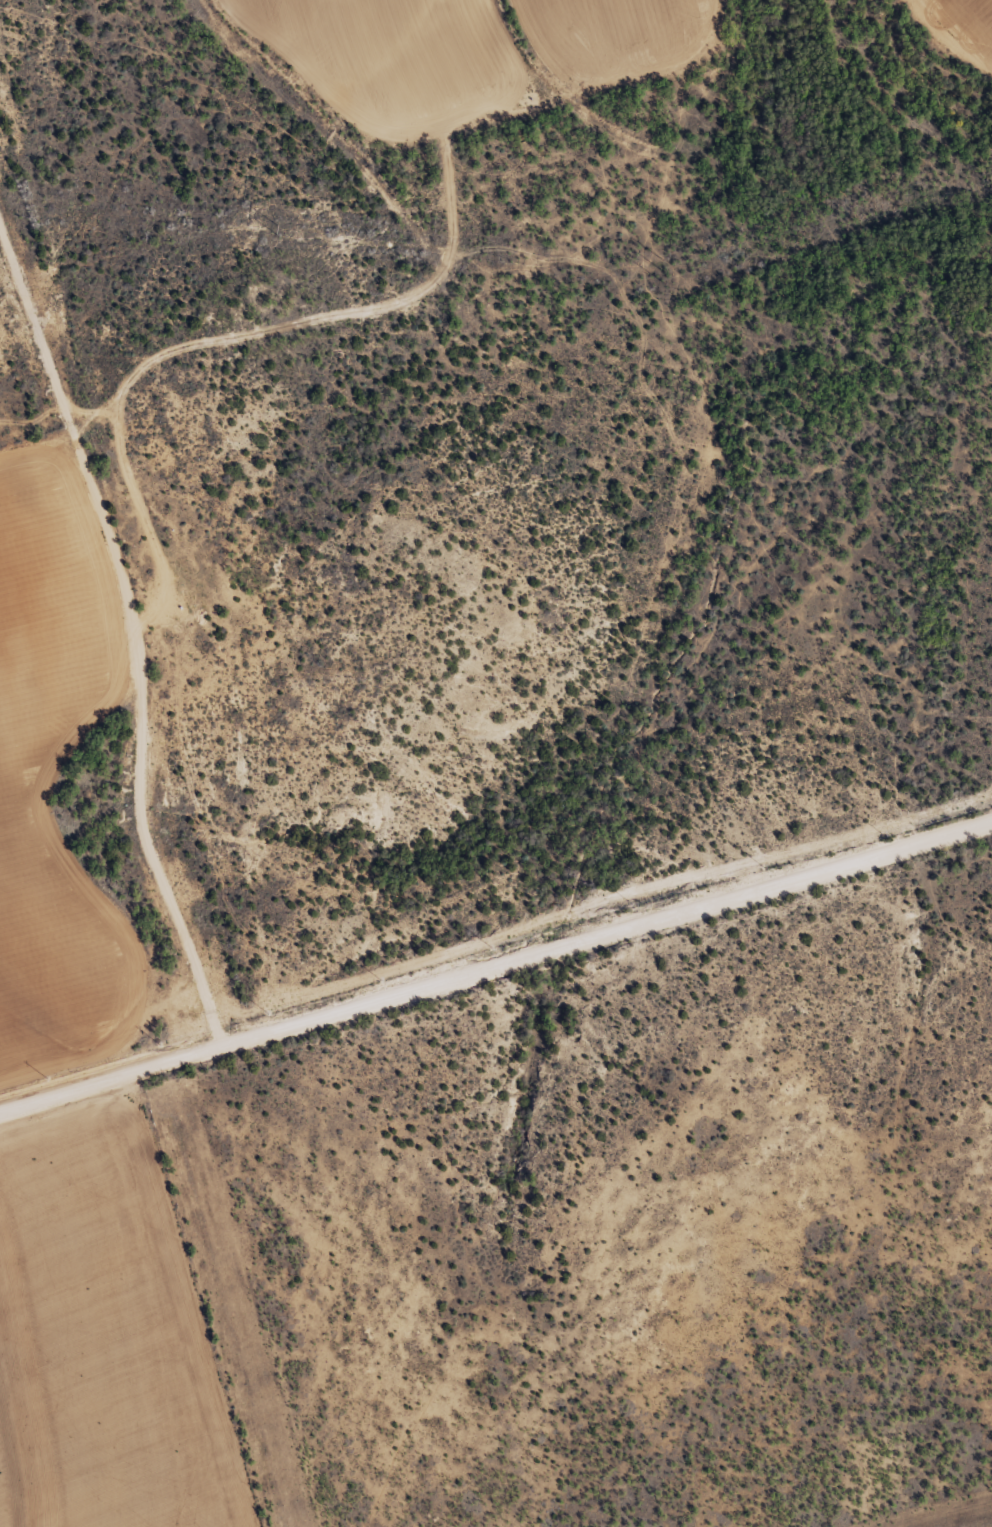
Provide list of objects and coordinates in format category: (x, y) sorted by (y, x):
power tower: (277, 228)
power tower: (664, 266)
road: (496, 977)

